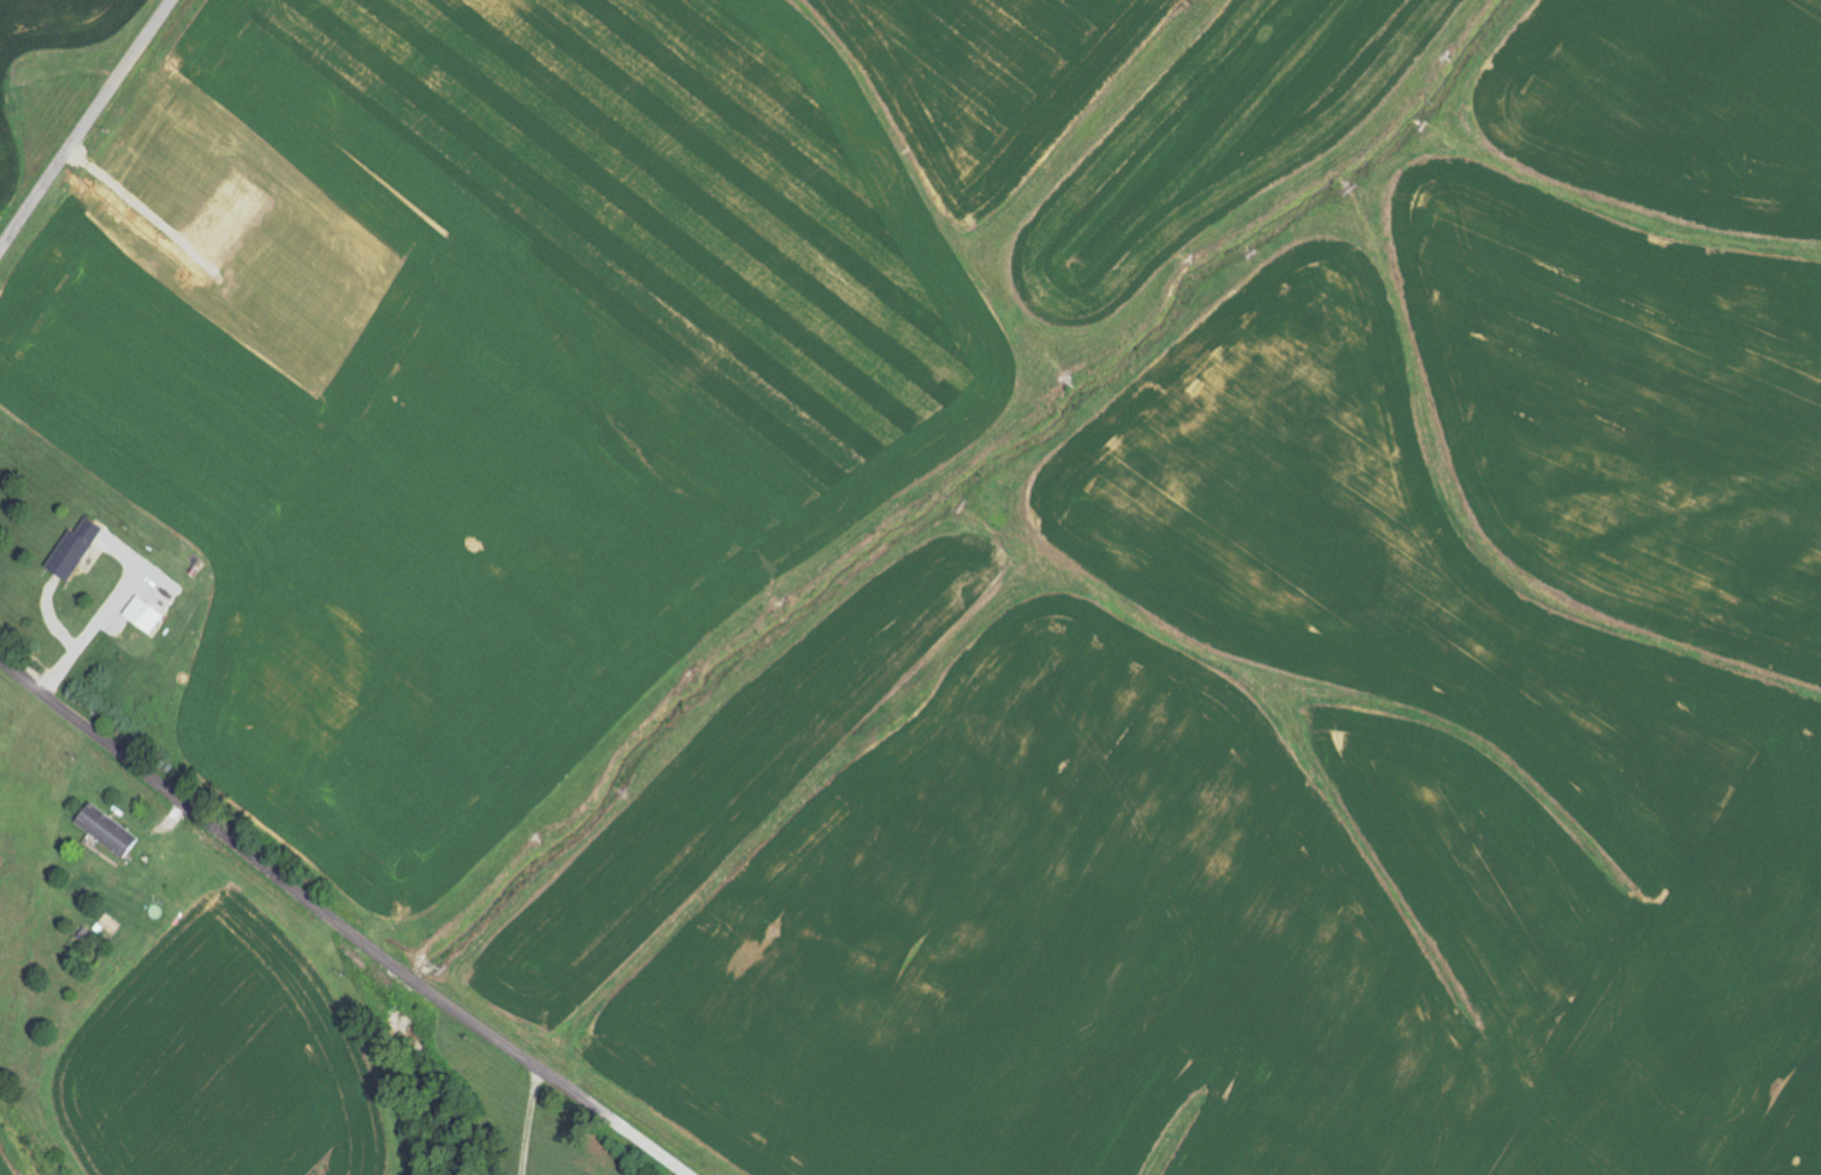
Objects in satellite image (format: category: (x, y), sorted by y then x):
road: (84, 123)
building: (76, 551)
building: (146, 616)
road: (100, 621)
building: (108, 829)
road: (336, 924)
road: (531, 1122)

